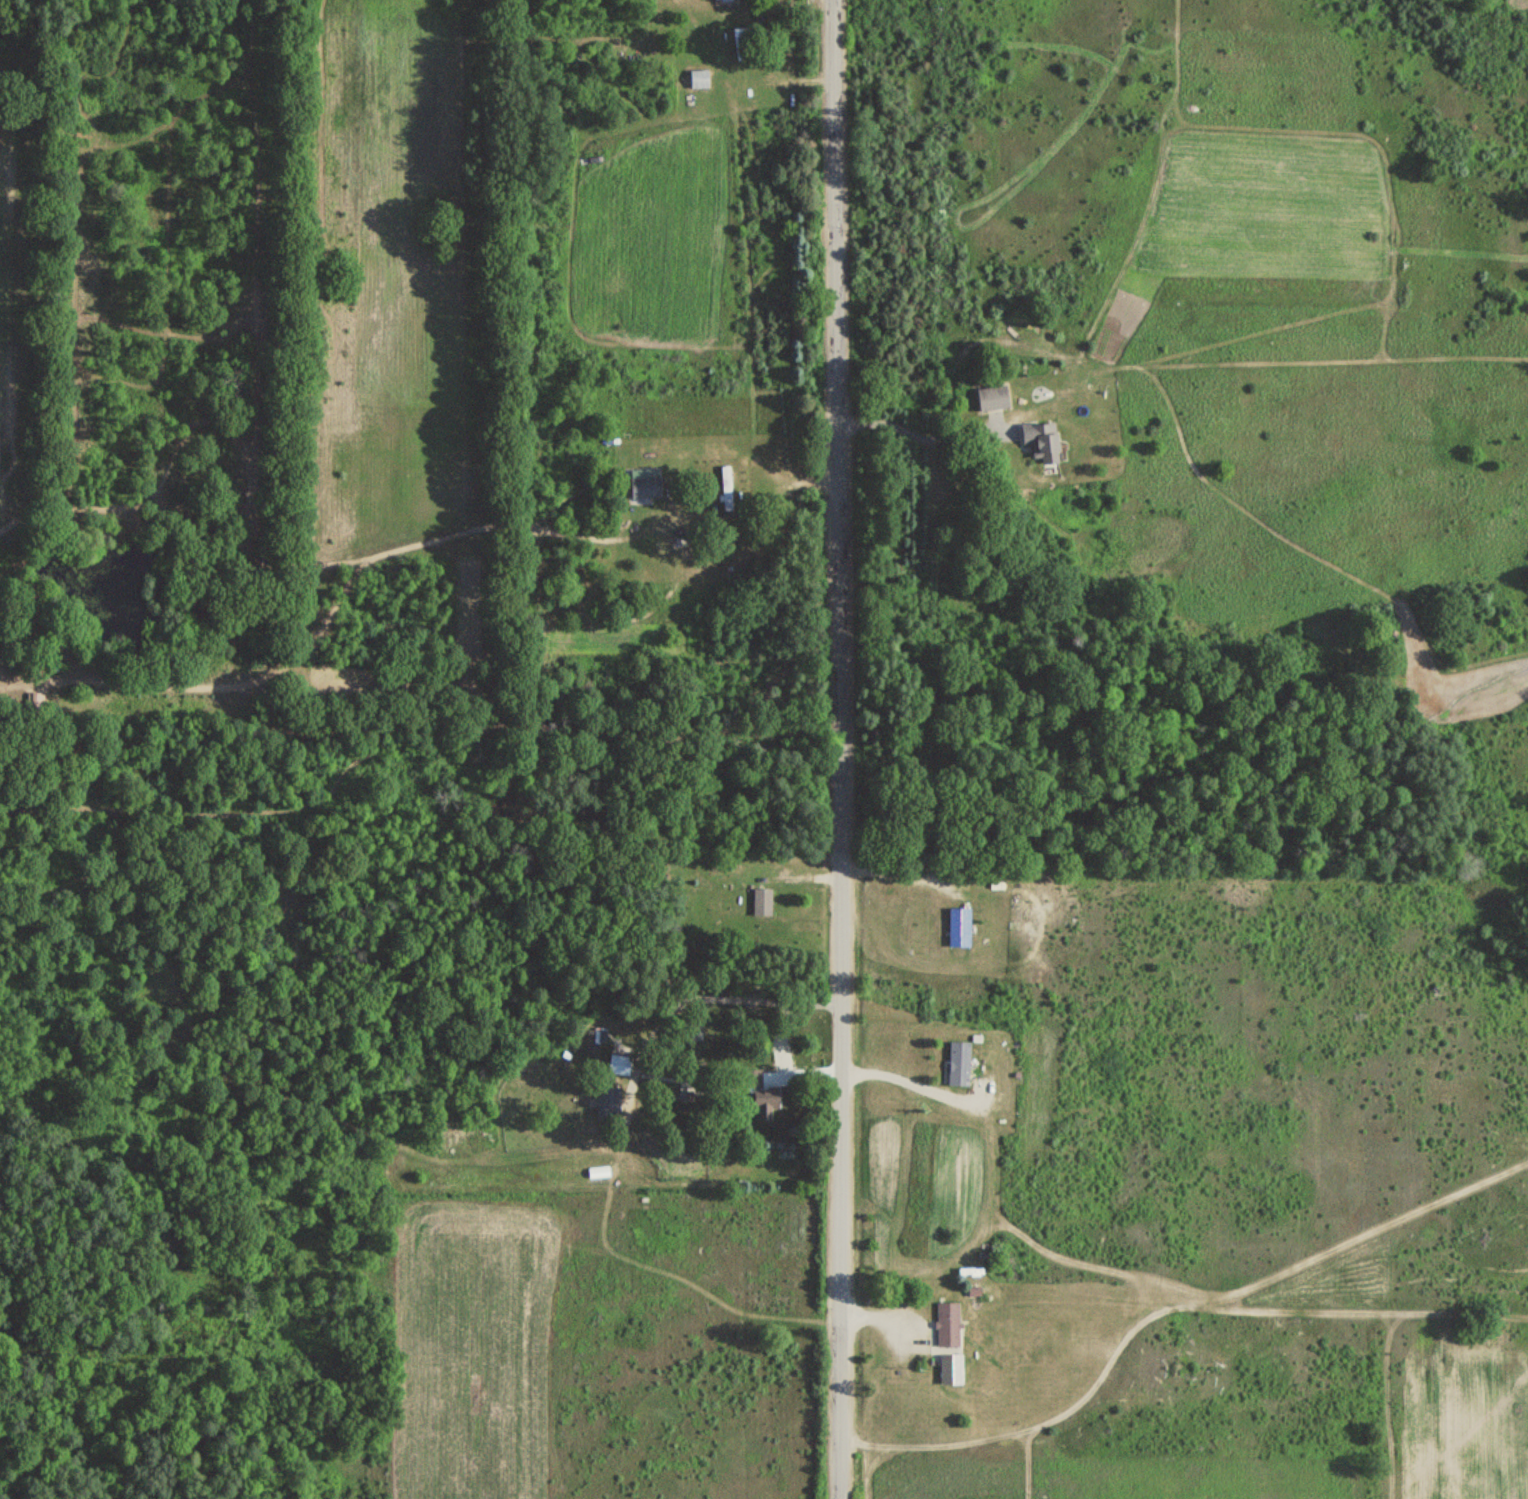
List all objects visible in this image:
building: (697, 79)
building: (990, 397)
road: (919, 435)
building: (1036, 440)
building: (643, 482)
road: (842, 749)
building: (760, 902)
building: (956, 928)
building: (594, 1046)
building: (956, 1064)
building: (758, 1097)
building: (606, 1103)
building: (970, 1292)
building: (946, 1344)

